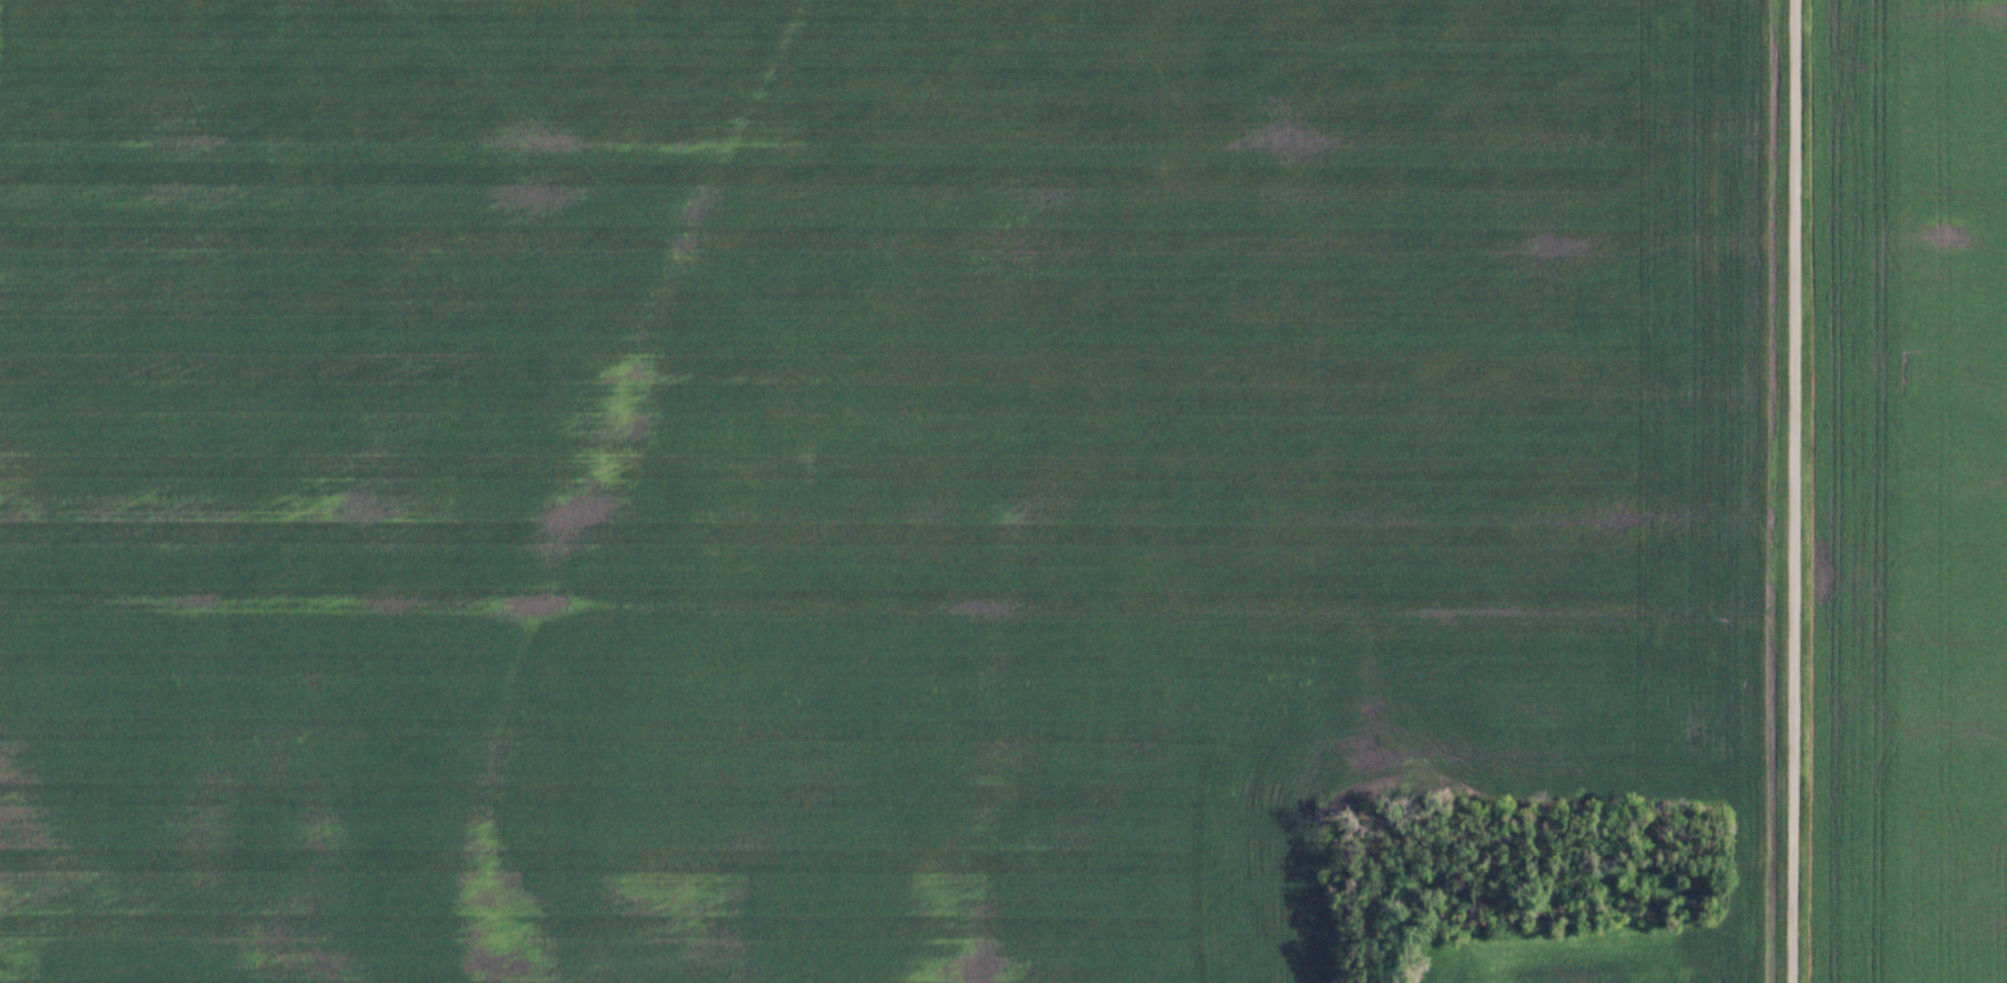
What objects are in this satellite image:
road: (1796, 491)

